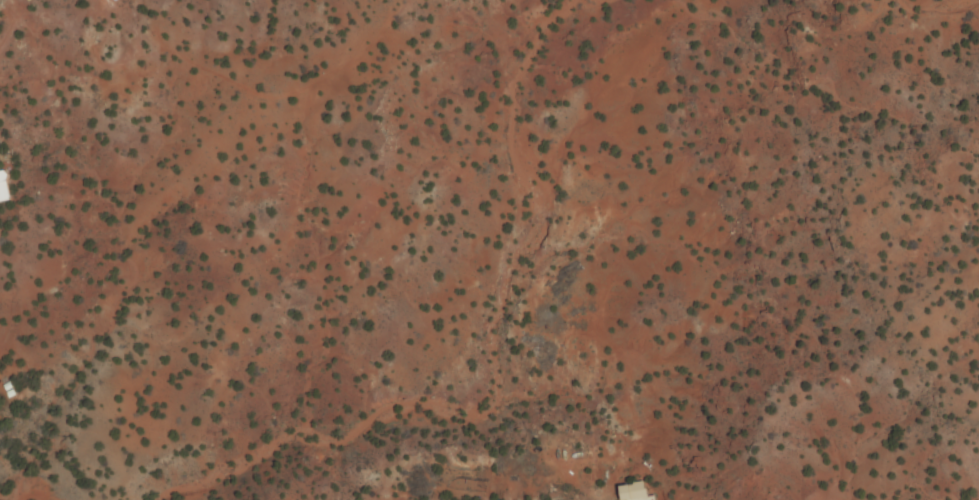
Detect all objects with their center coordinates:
building: (646, 498)

